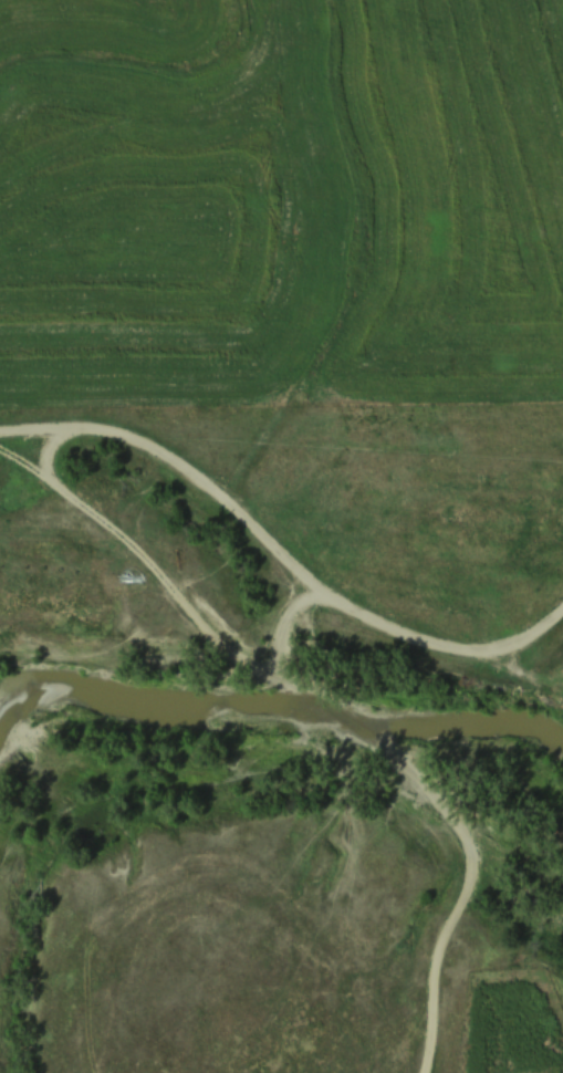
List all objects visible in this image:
road: (316, 707)
river: (281, 708)

